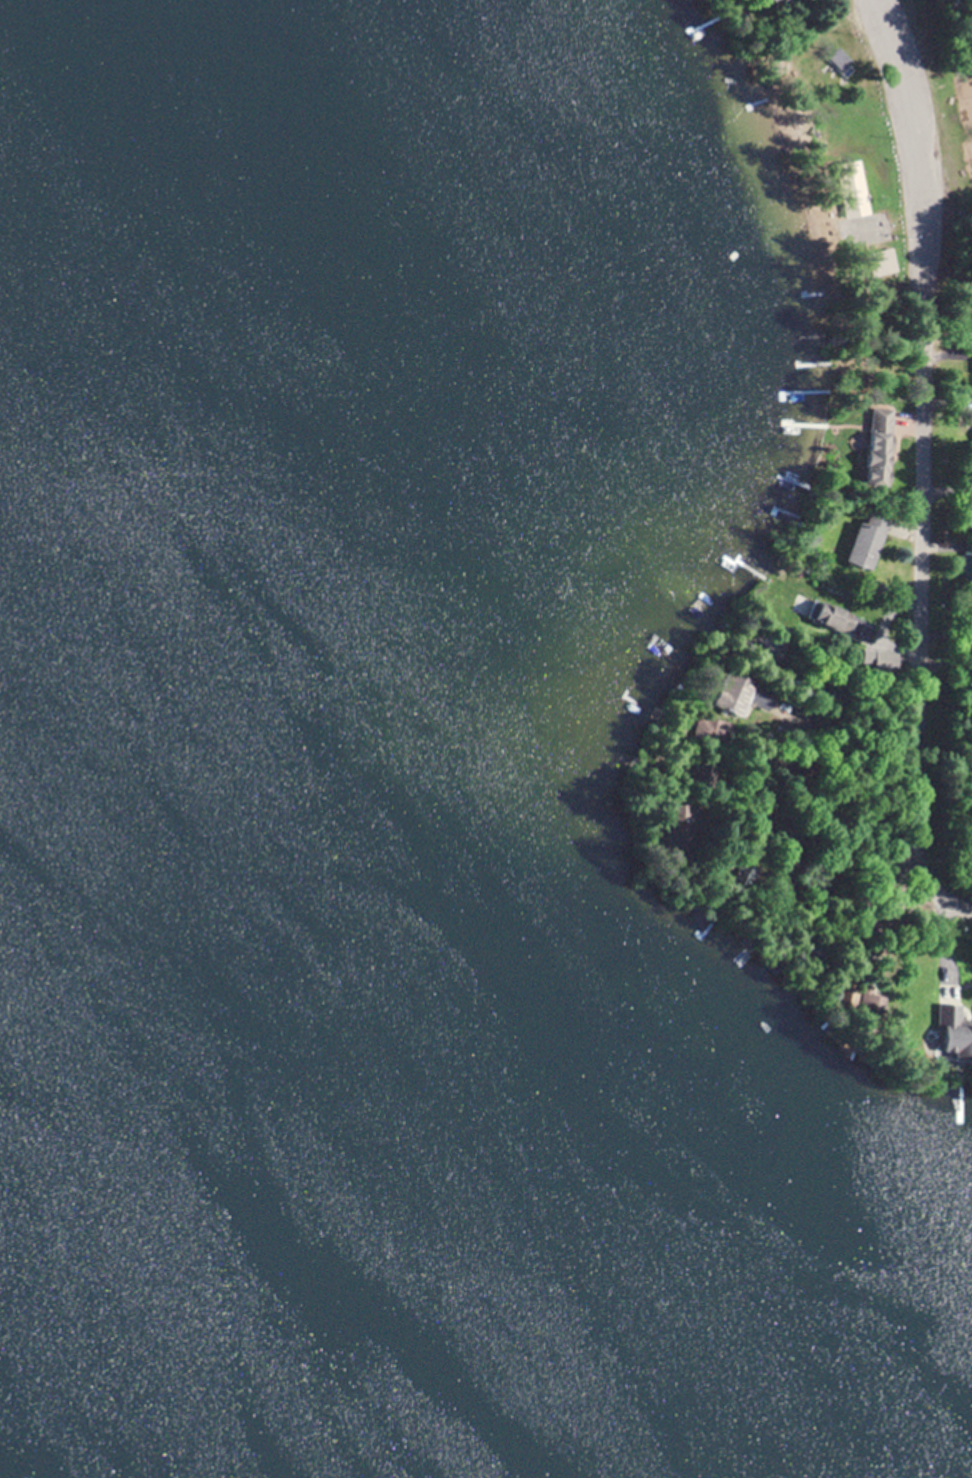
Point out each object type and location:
building: (811, 0)
building: (832, 58)
park: (945, 132)
park: (836, 150)
building: (850, 189)
building: (875, 263)
building: (969, 325)
building: (874, 447)
road: (923, 465)
building: (864, 539)
building: (970, 617)
building: (832, 620)
building: (726, 694)
building: (666, 812)
building: (841, 993)
building: (949, 1029)

